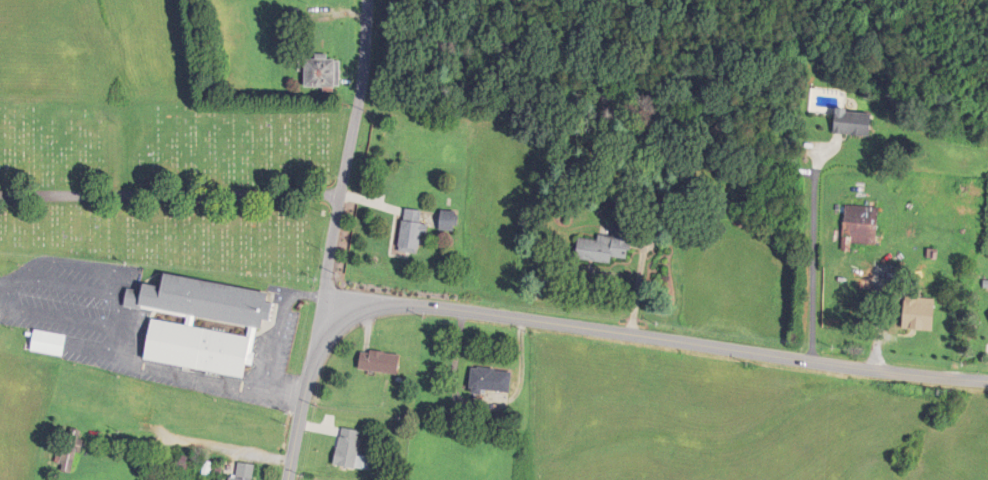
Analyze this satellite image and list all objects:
building: (323, 73)
building: (856, 123)
road: (346, 160)
park: (172, 186)
road: (170, 194)
building: (448, 222)
building: (863, 225)
building: (412, 232)
building: (608, 247)
road: (812, 253)
building: (922, 313)
road: (50, 316)
building: (205, 324)
road: (280, 326)
road: (120, 327)
road: (654, 338)
building: (51, 344)
building: (382, 363)
building: (493, 382)
road: (284, 394)
road: (303, 399)
building: (352, 452)
building: (246, 472)

